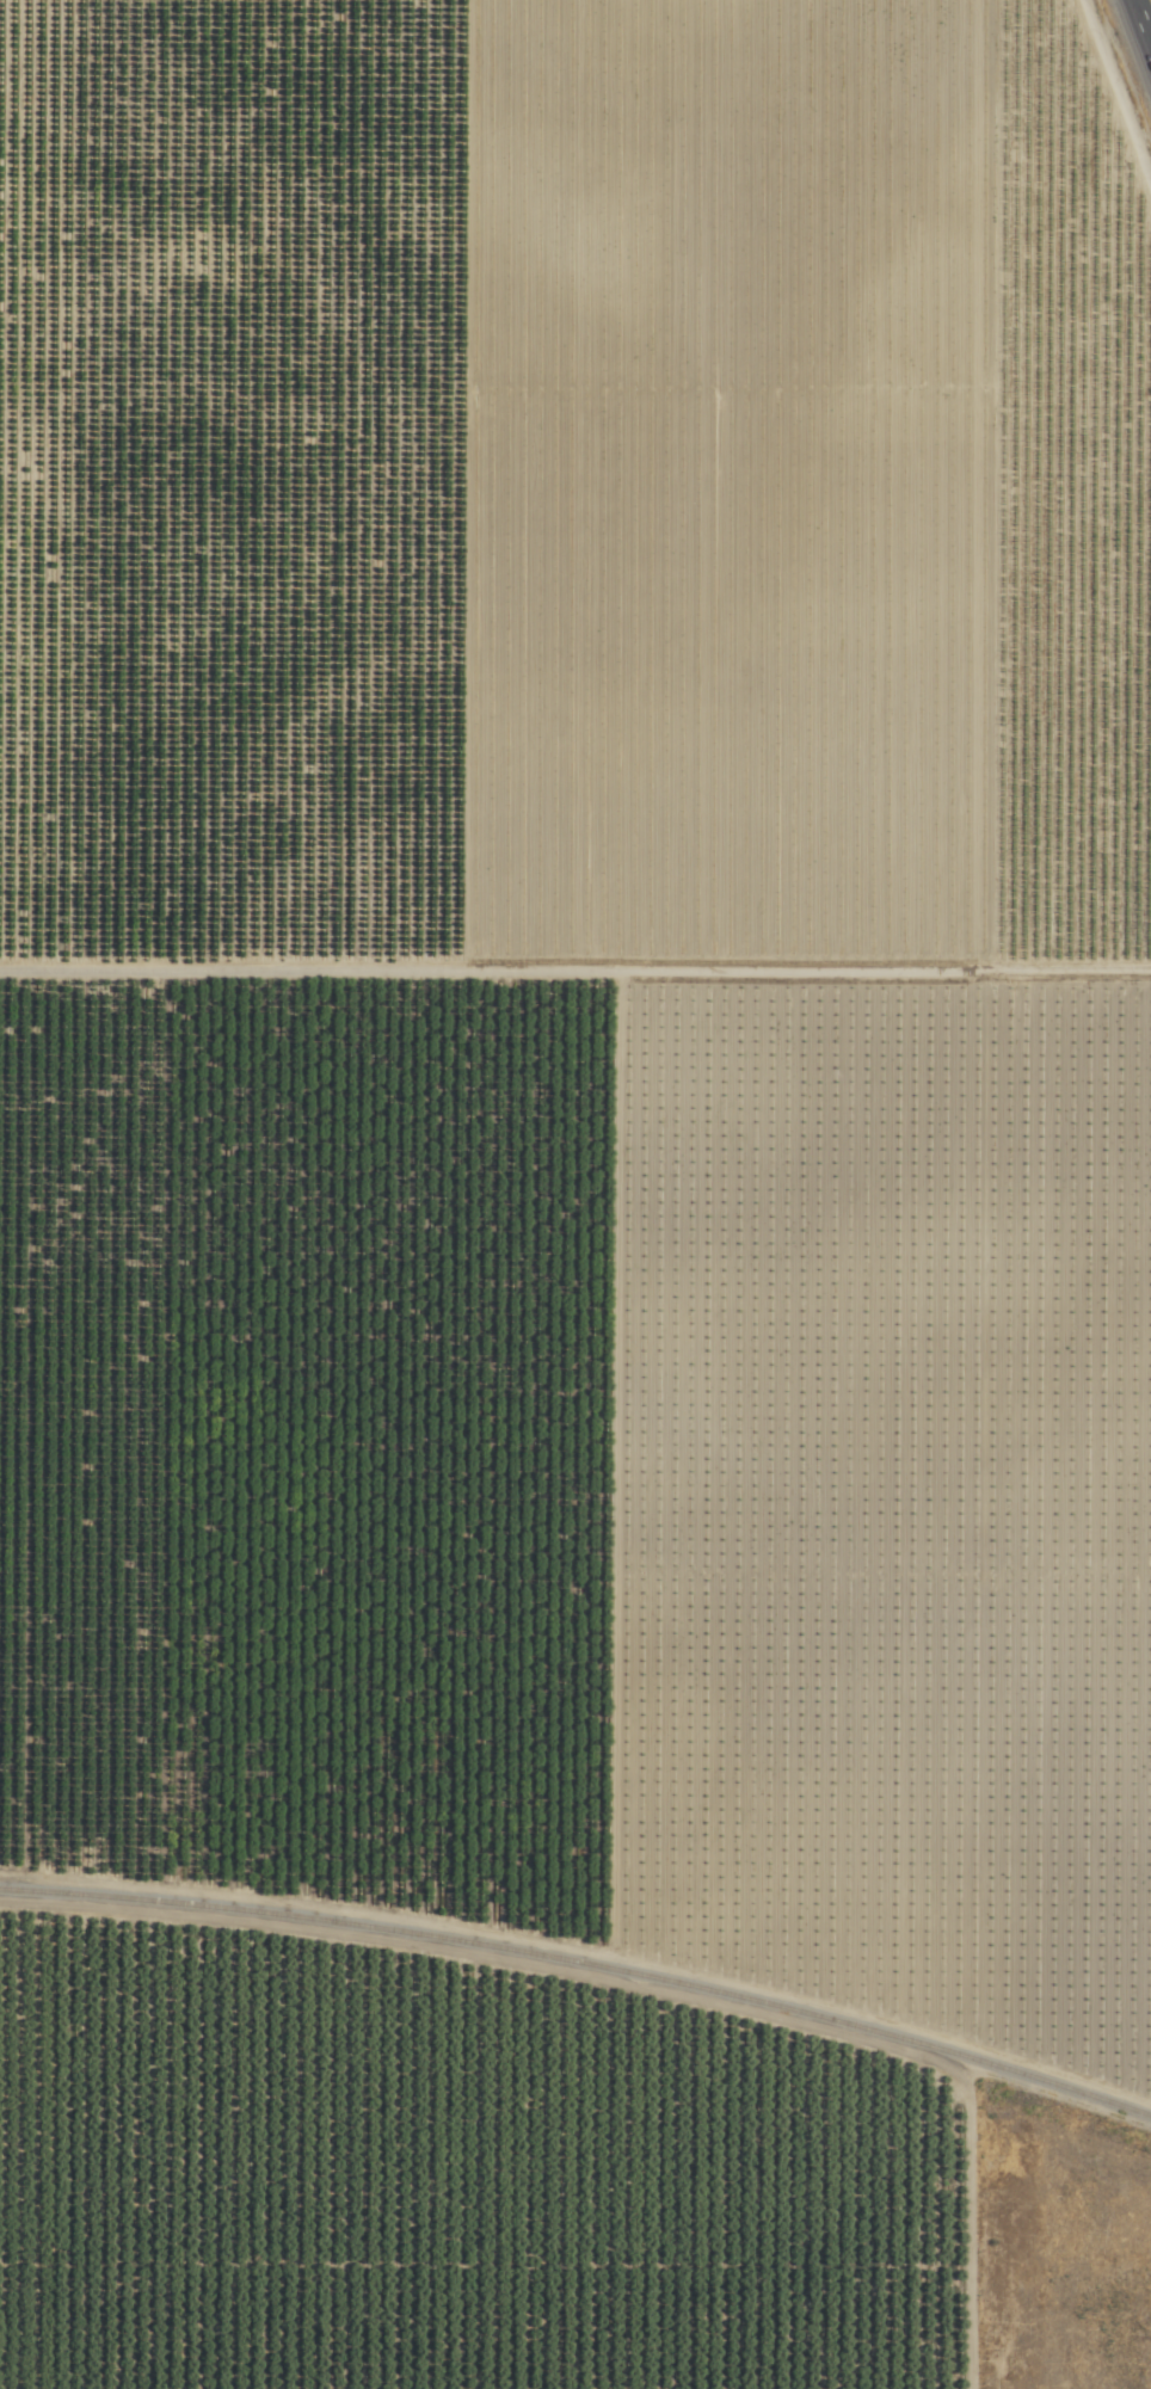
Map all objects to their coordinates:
road: (1137, 35)
road: (1045, 210)
road: (0, 864)
crop: (583, 983)
railway: (583, 1963)

